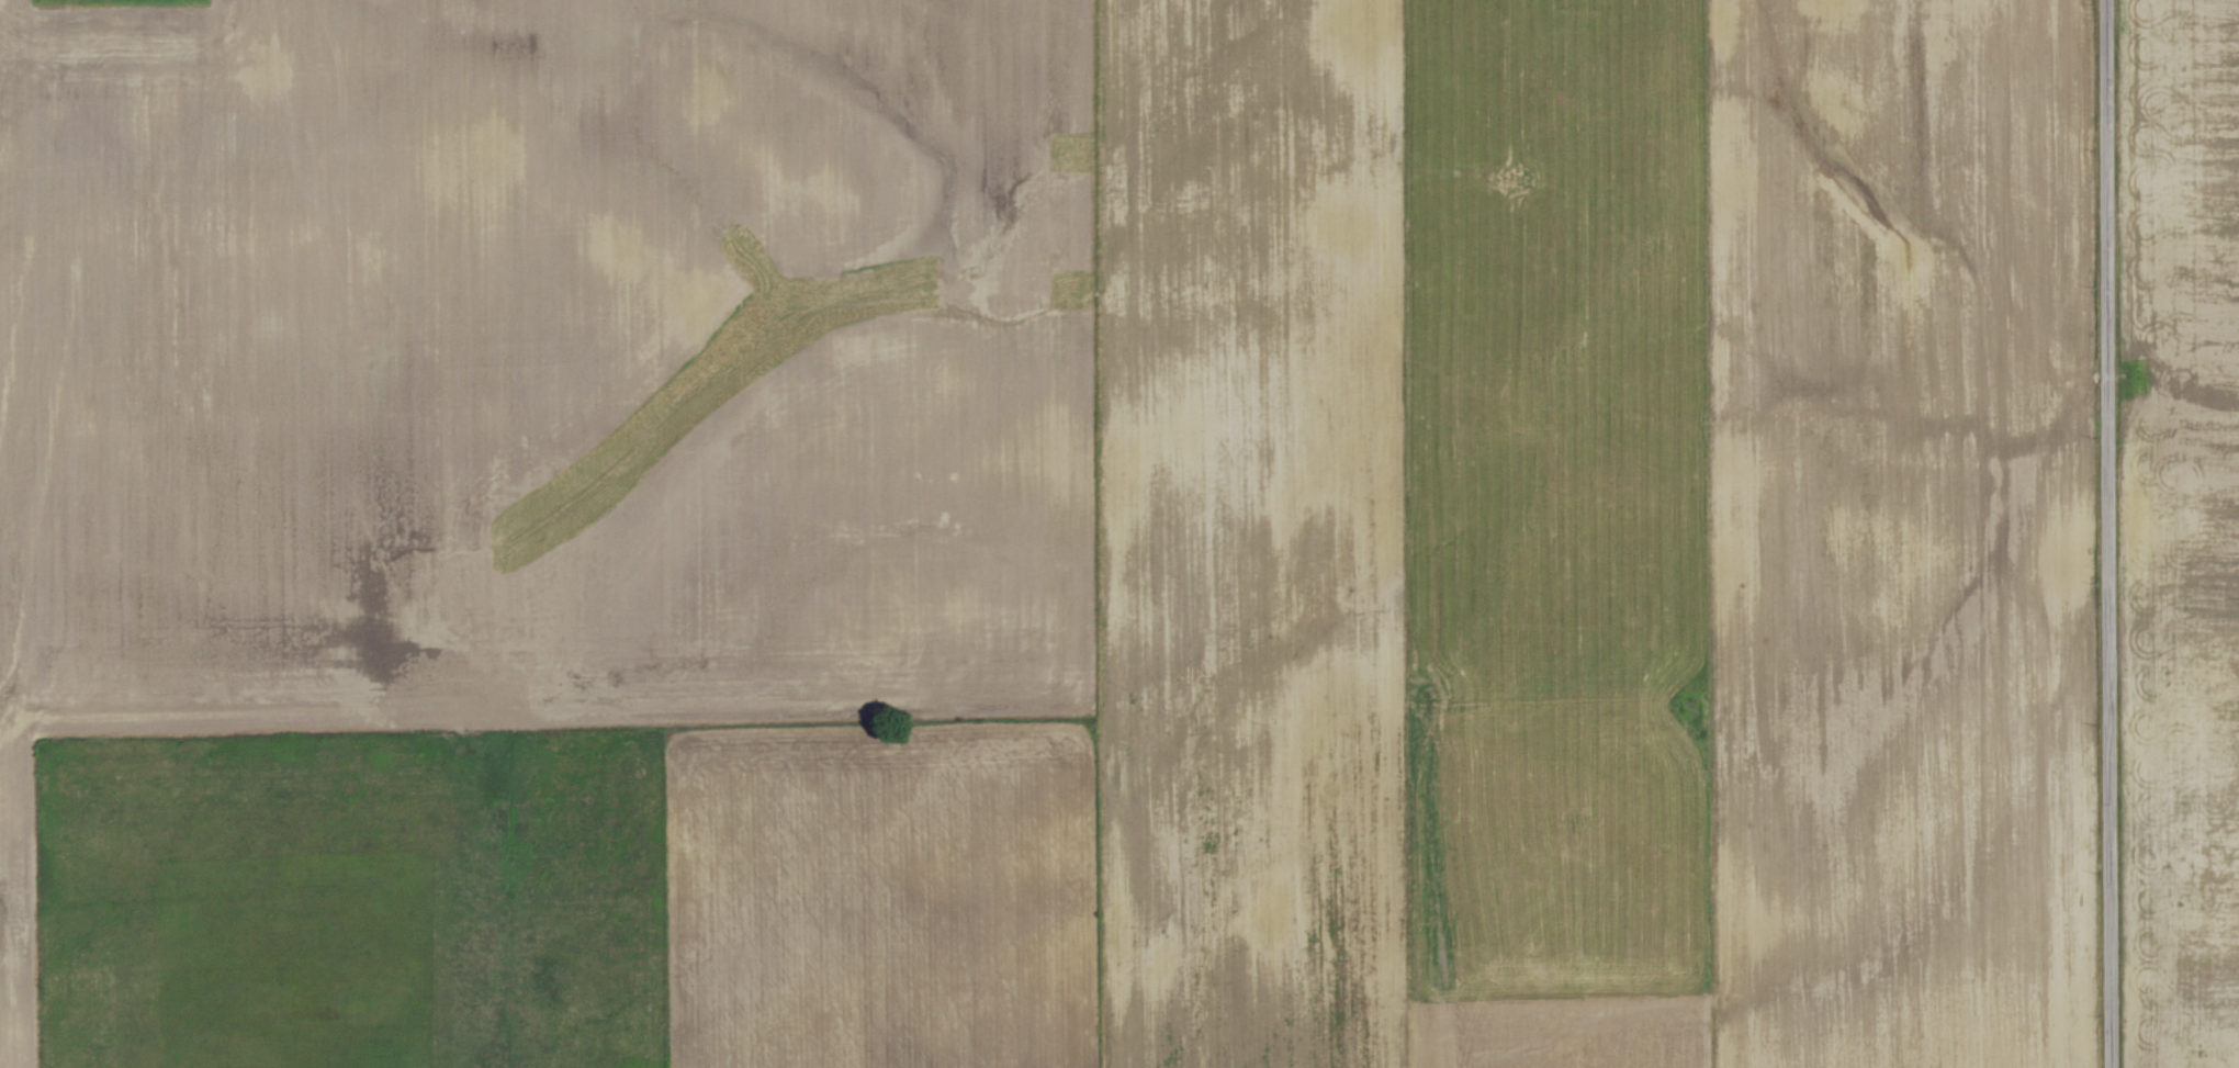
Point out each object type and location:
road: (2112, 533)

